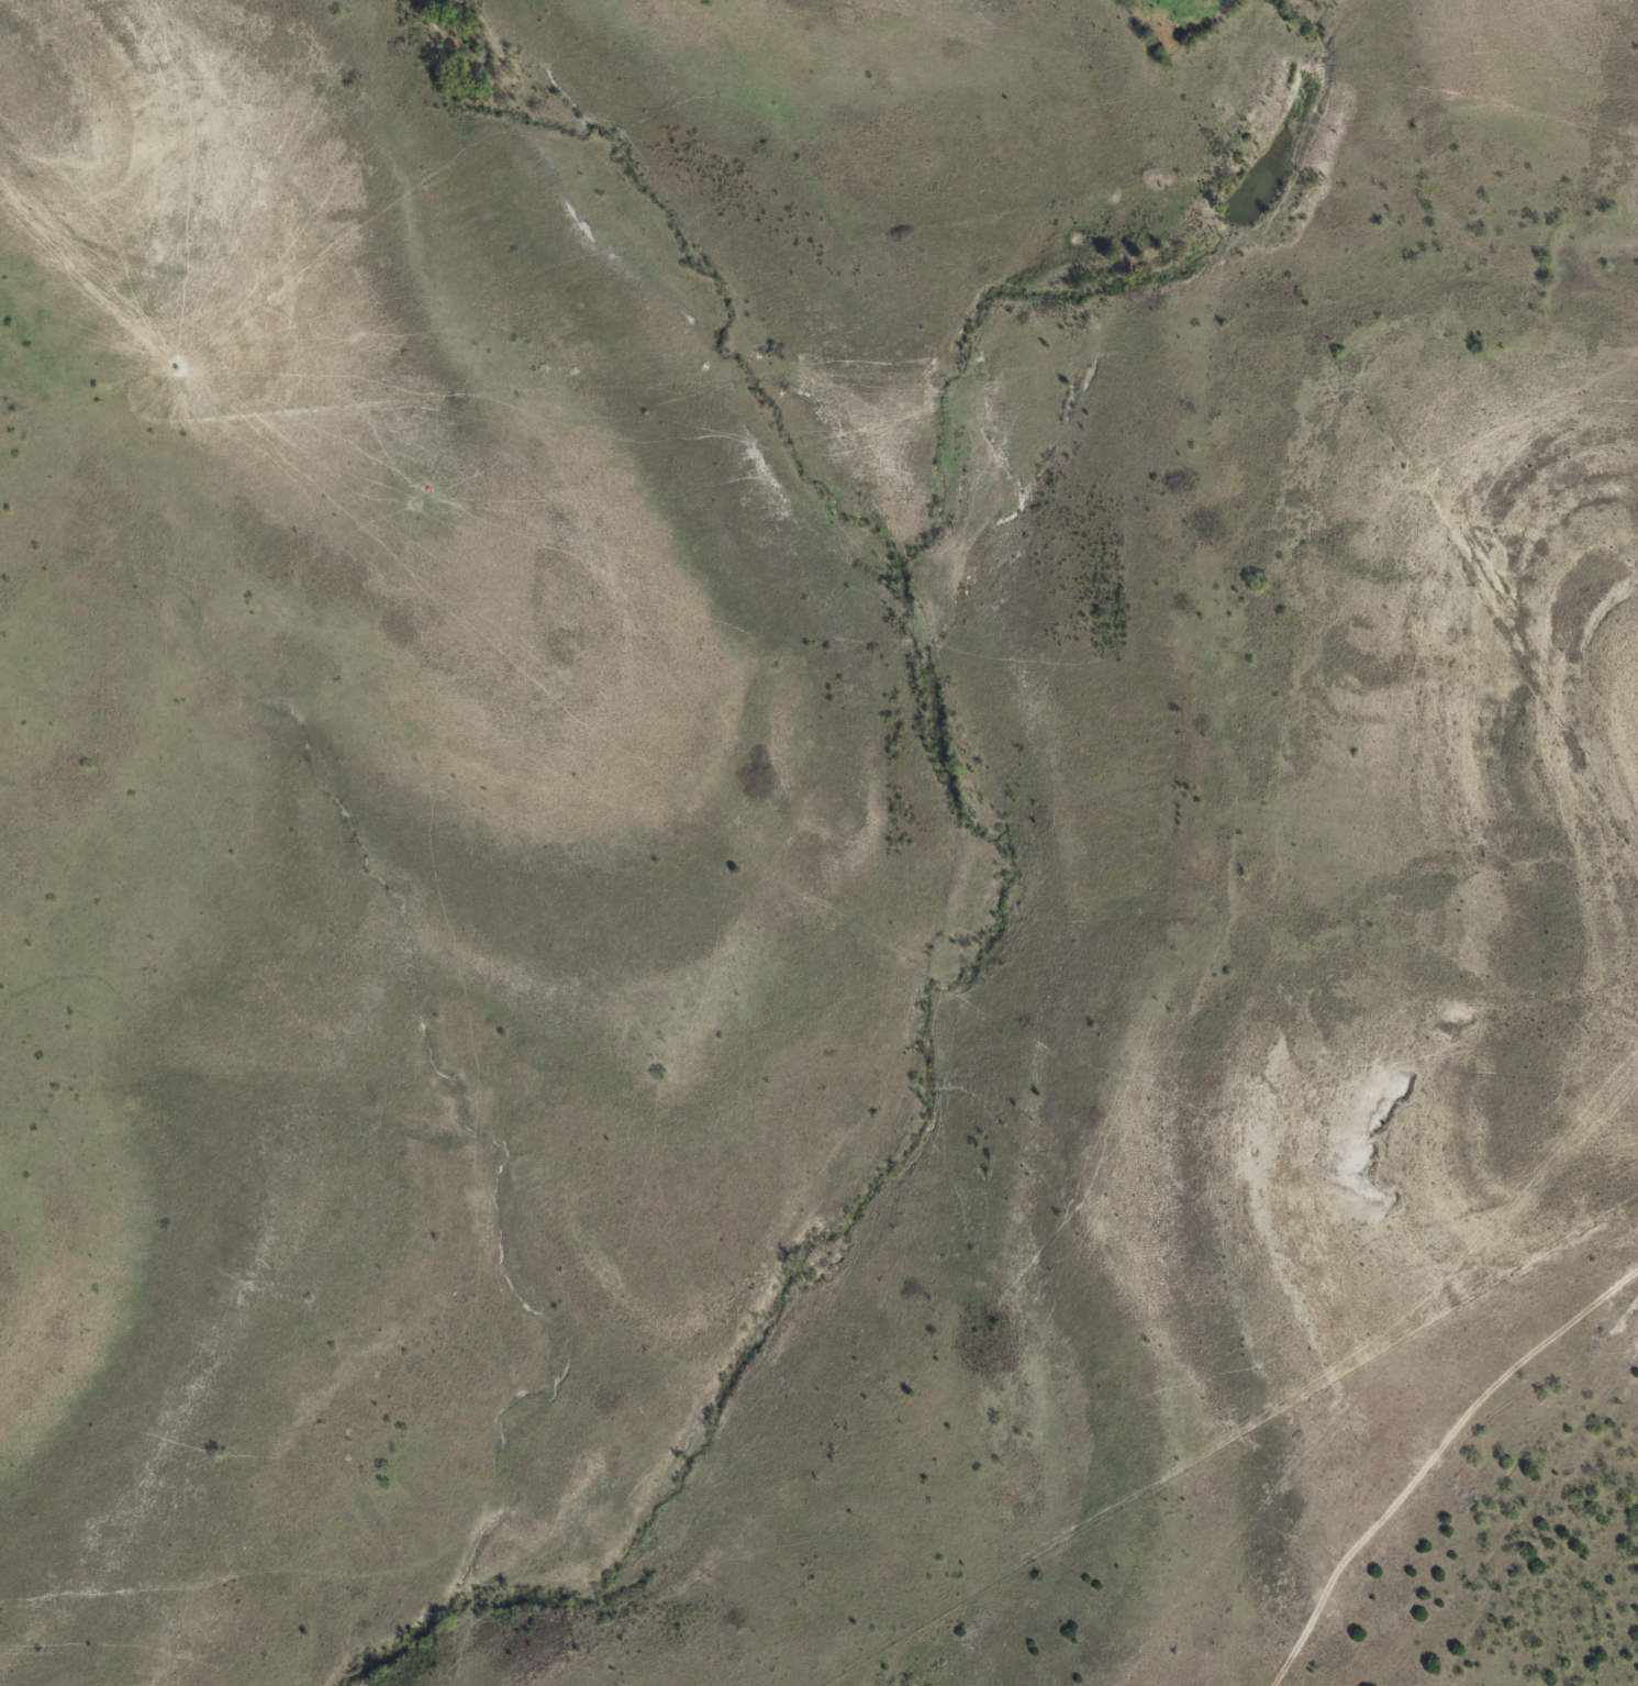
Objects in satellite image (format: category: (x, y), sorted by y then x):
road: (1509, 1489)

